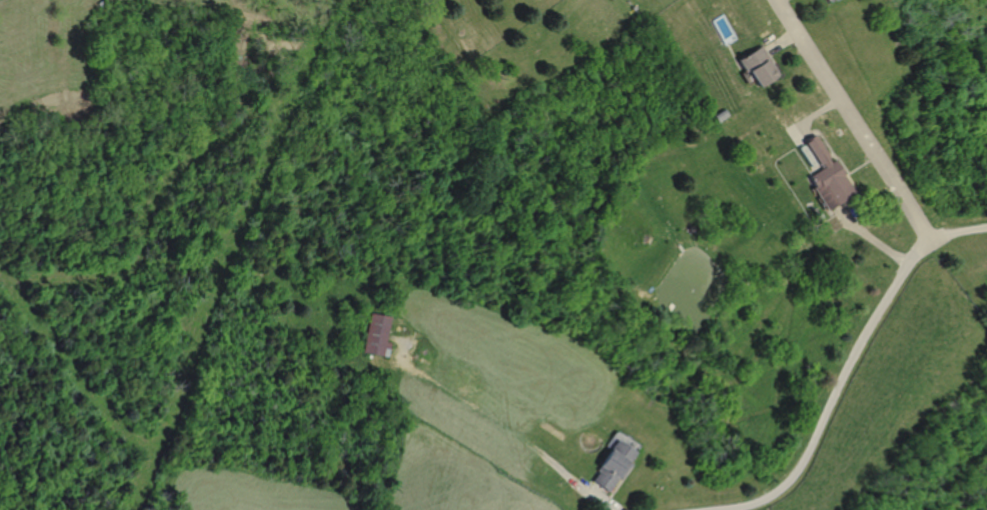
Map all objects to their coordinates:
building: (826, 0)
building: (755, 68)
building: (821, 175)
road: (955, 232)
road: (904, 267)
building: (370, 334)
building: (607, 465)

